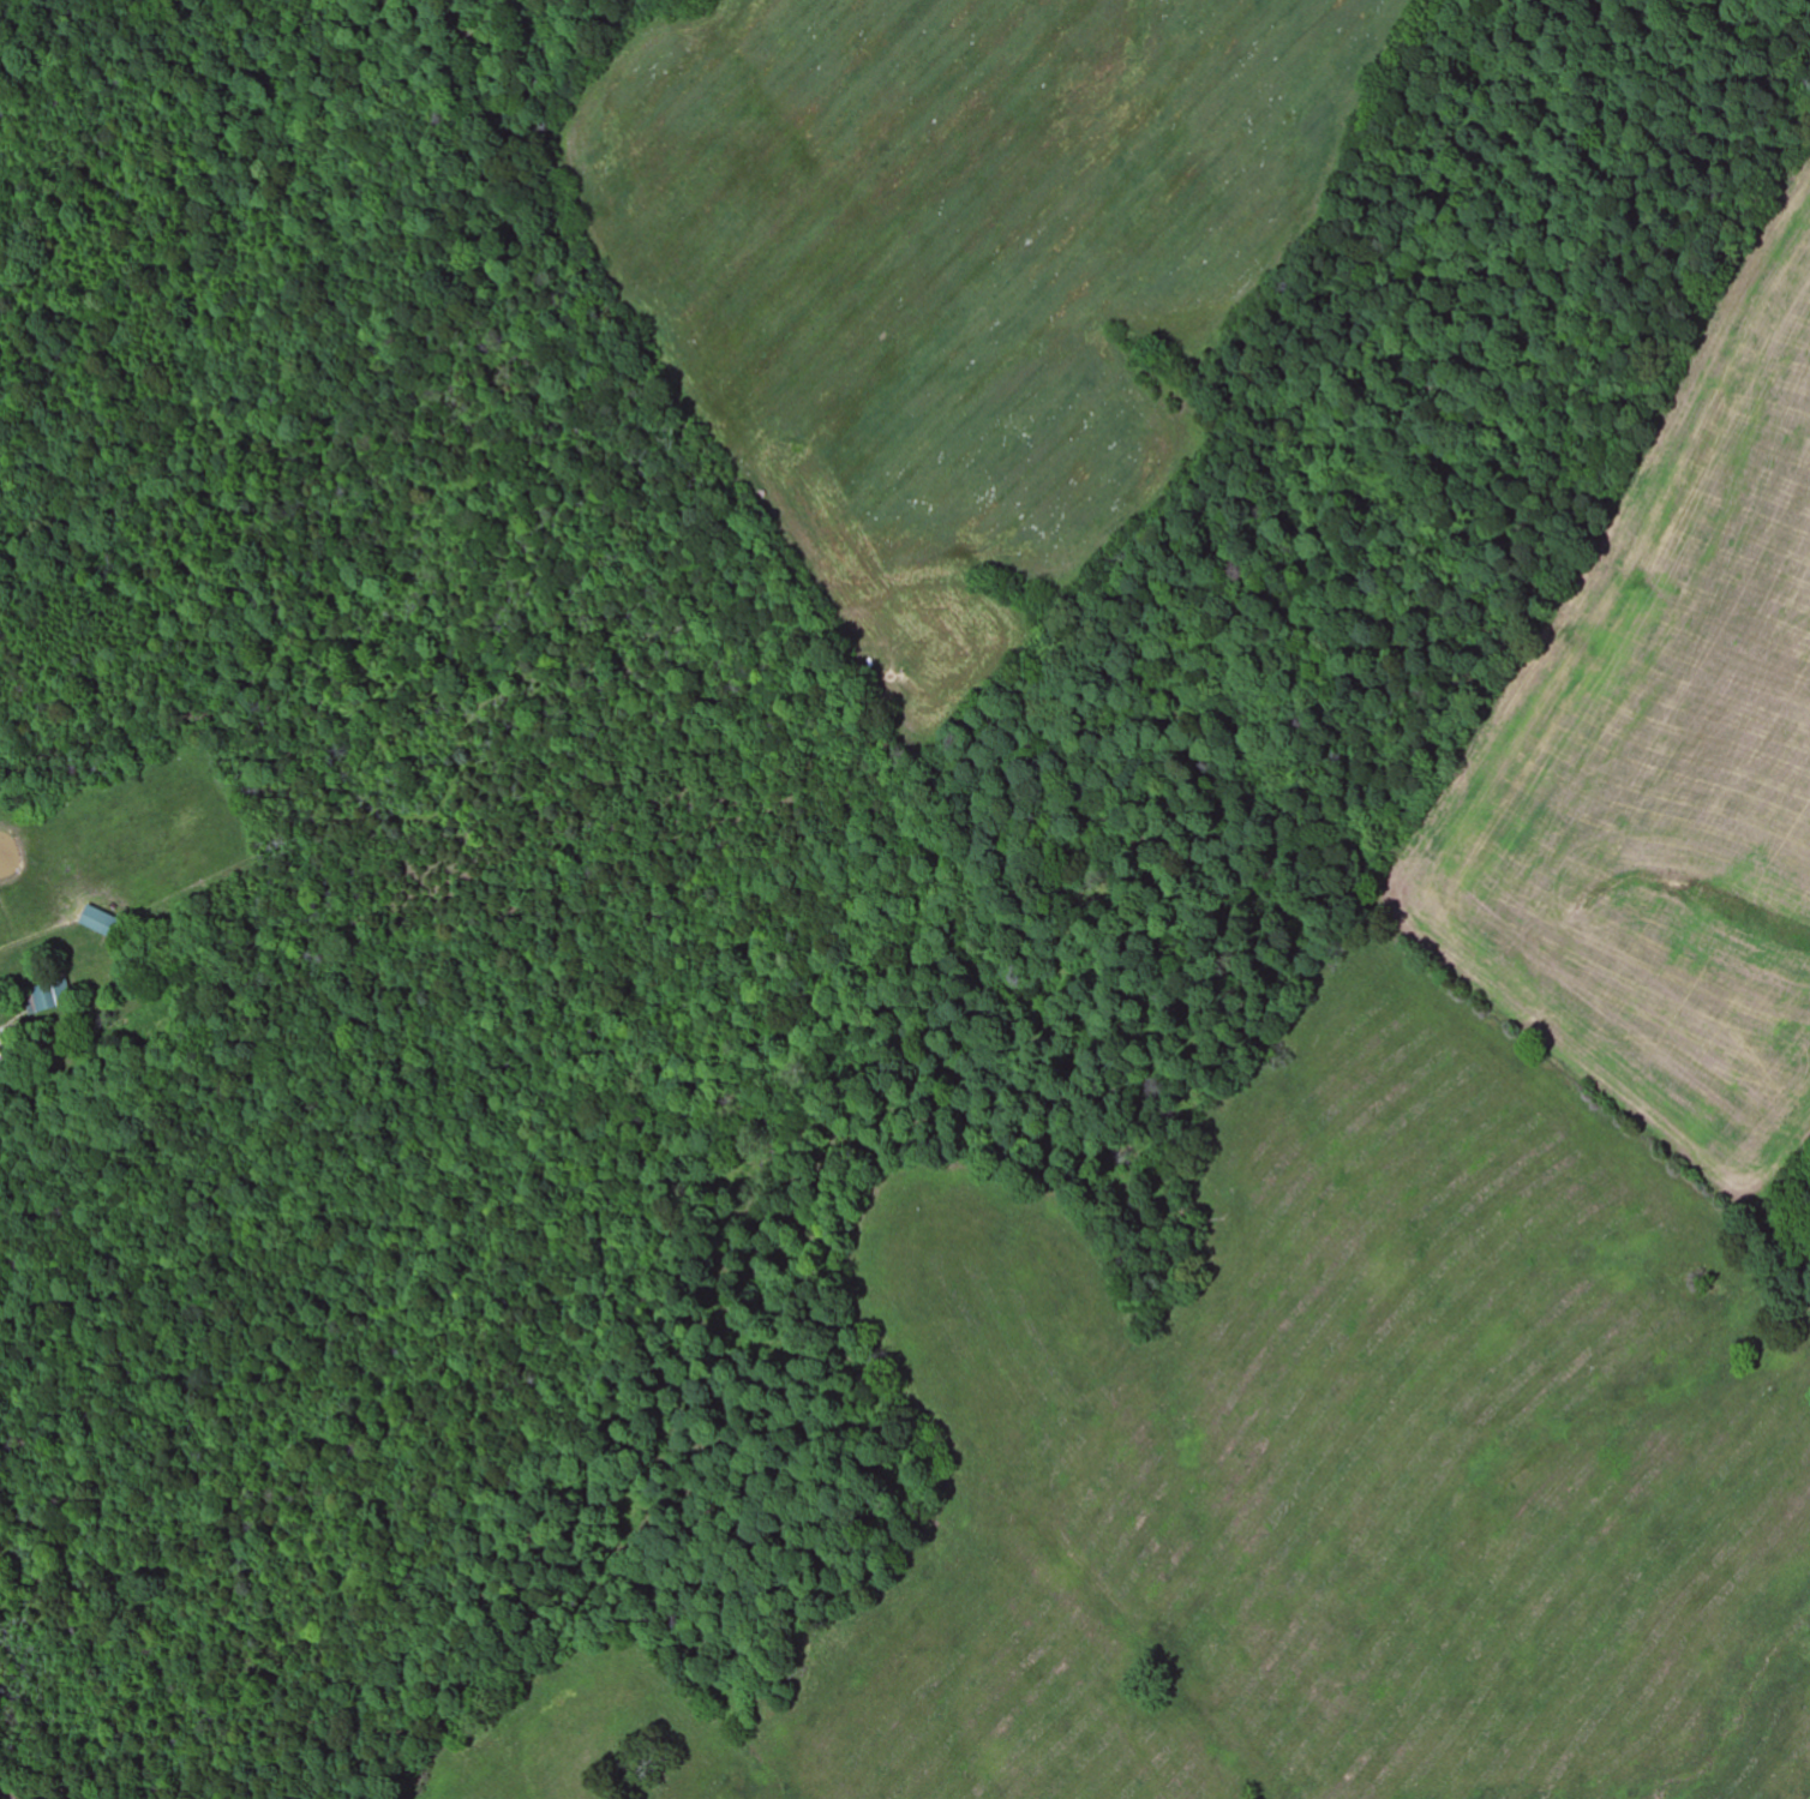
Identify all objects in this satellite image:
building: (102, 922)
building: (53, 996)
road: (1, 1797)

